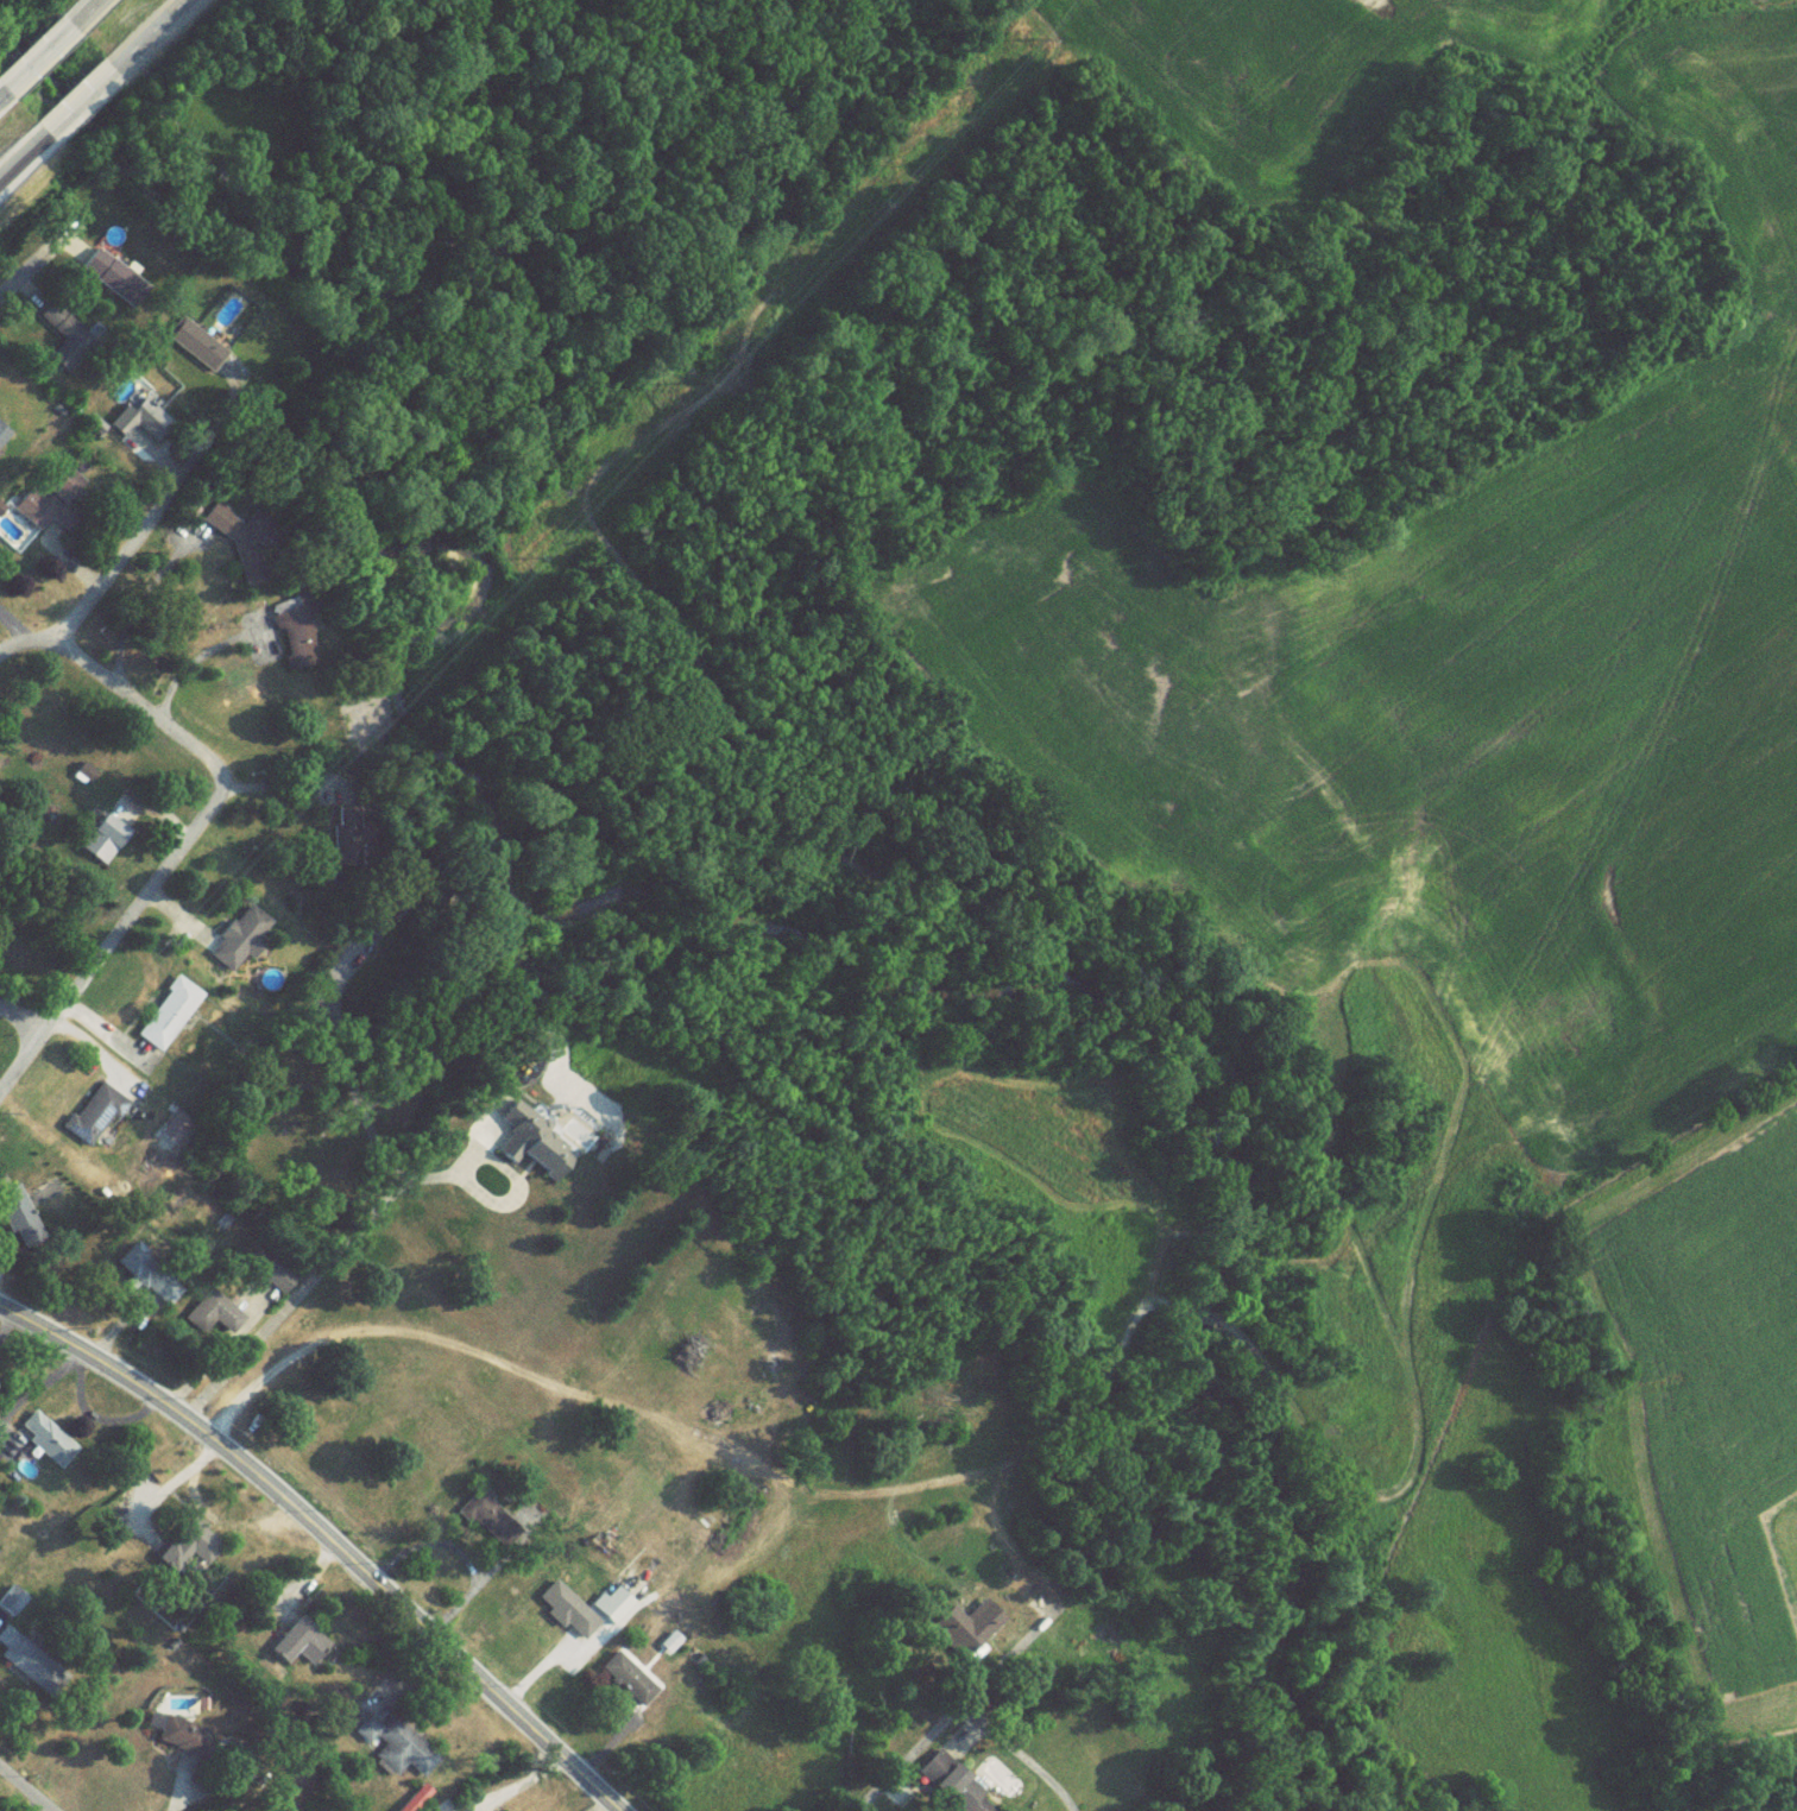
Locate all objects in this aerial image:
road: (84, 17)
road: (149, 37)
road: (36, 67)
park: (215, 95)
road: (1, 101)
road: (75, 107)
road: (21, 158)
road: (39, 267)
building: (111, 284)
building: (195, 353)
building: (0, 441)
road: (132, 554)
building: (292, 637)
road: (189, 663)
road: (207, 822)
building: (235, 944)
building: (166, 1020)
road: (24, 1027)
road: (24, 1066)
building: (90, 1121)
road: (366, 1218)
building: (162, 1294)
building: (238, 1312)
road: (139, 1388)
building: (44, 1440)
building: (190, 1542)
building: (10, 1599)
building: (566, 1616)
building: (298, 1642)
road: (440, 1648)
building: (26, 1660)
road: (982, 1678)
building: (628, 1685)
building: (177, 1735)
road: (964, 1742)
building: (393, 1744)
road: (26, 1788)
road: (176, 1788)
building: (414, 1799)

